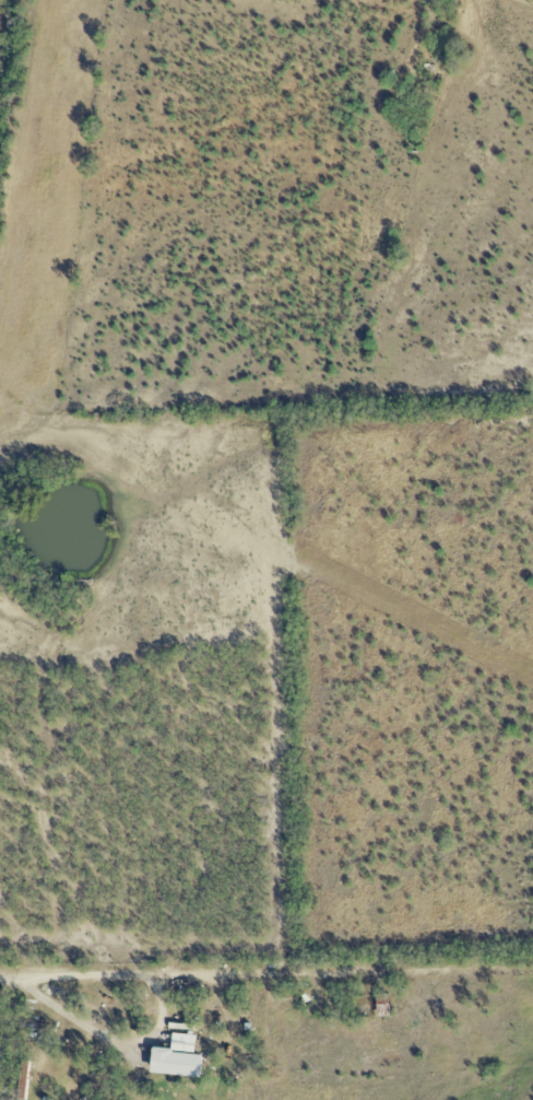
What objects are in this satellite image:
road: (263, 972)
road: (7, 979)
road: (162, 1018)
building: (175, 1058)
building: (22, 1080)

